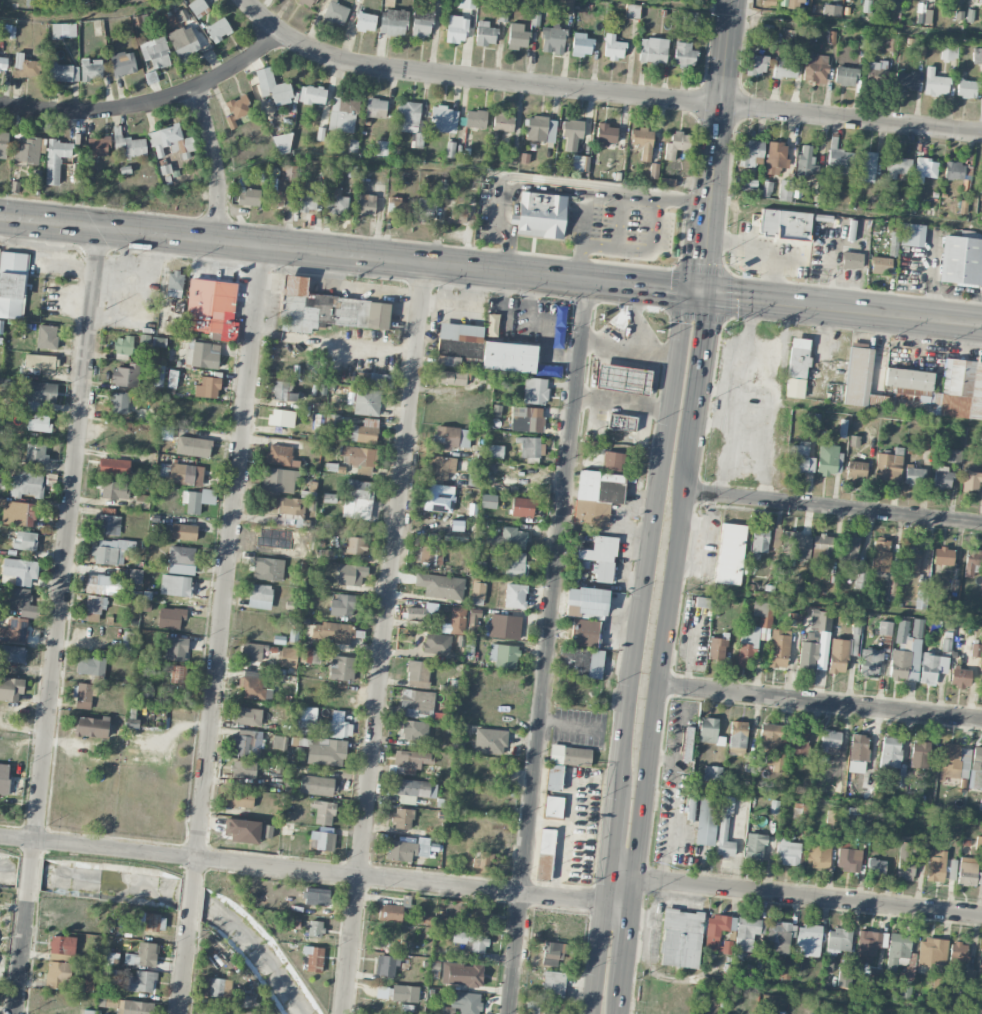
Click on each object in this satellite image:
building: (978, 2)
building: (306, 3)
building: (467, 4)
building: (567, 4)
building: (795, 4)
building: (197, 6)
building: (632, 11)
building: (336, 13)
building: (181, 15)
road: (86, 16)
building: (924, 17)
road: (801, 19)
building: (690, 21)
building: (365, 22)
building: (393, 23)
building: (421, 24)
building: (218, 29)
building: (457, 29)
building: (63, 31)
building: (485, 34)
building: (517, 37)
building: (552, 40)
building: (183, 42)
building: (581, 45)
building: (613, 48)
building: (653, 50)
building: (155, 52)
building: (949, 52)
building: (684, 55)
building: (977, 56)
building: (123, 64)
building: (3, 65)
building: (756, 65)
building: (25, 67)
building: (785, 67)
building: (815, 68)
building: (91, 69)
building: (877, 71)
building: (62, 73)
building: (845, 76)
building: (906, 81)
building: (935, 83)
building: (966, 88)
building: (277, 92)
road: (603, 93)
building: (312, 95)
road: (149, 100)
building: (376, 108)
building: (237, 110)
building: (343, 114)
building: (408, 117)
building: (475, 119)
building: (443, 120)
building: (502, 122)
building: (540, 129)
building: (572, 134)
building: (605, 134)
building: (417, 140)
building: (173, 141)
building: (643, 142)
building: (281, 144)
building: (3, 145)
building: (676, 145)
building: (99, 146)
road: (717, 146)
building: (382, 148)
building: (450, 149)
building: (27, 150)
building: (750, 152)
building: (775, 158)
building: (56, 160)
building: (580, 163)
building: (806, 163)
building: (839, 163)
road: (215, 164)
building: (866, 167)
building: (898, 167)
building: (925, 170)
building: (957, 171)
building: (286, 172)
road: (975, 178)
road: (597, 186)
building: (785, 190)
road: (578, 191)
building: (439, 193)
building: (248, 197)
building: (276, 199)
building: (308, 201)
building: (336, 202)
building: (365, 205)
building: (397, 207)
building: (426, 210)
building: (541, 215)
building: (458, 216)
road: (619, 218)
road: (500, 223)
building: (785, 225)
building: (907, 235)
road: (581, 239)
road: (643, 249)
building: (852, 260)
building: (961, 261)
building: (881, 265)
road: (491, 270)
building: (12, 284)
building: (174, 284)
traffic signals: (701, 293)
building: (211, 308)
building: (326, 309)
building: (492, 324)
building: (46, 337)
building: (457, 343)
building: (123, 345)
building: (202, 355)
building: (508, 357)
building: (798, 358)
building: (38, 363)
building: (125, 376)
building: (451, 378)
building: (171, 379)
building: (374, 380)
road: (698, 381)
building: (207, 388)
building: (794, 388)
building: (961, 389)
building: (284, 391)
building: (534, 391)
building: (39, 395)
building: (640, 398)
building: (367, 402)
building: (119, 403)
road: (890, 416)
building: (279, 418)
building: (526, 419)
building: (813, 420)
building: (39, 423)
building: (331, 424)
building: (365, 431)
building: (166, 433)
building: (451, 438)
building: (981, 440)
building: (854, 441)
building: (193, 447)
building: (530, 450)
building: (495, 452)
building: (36, 454)
building: (280, 456)
building: (955, 456)
building: (799, 458)
building: (359, 459)
building: (828, 459)
building: (613, 461)
building: (114, 467)
building: (442, 467)
building: (888, 467)
building: (856, 470)
building: (185, 474)
building: (914, 475)
building: (942, 477)
building: (280, 480)
building: (971, 481)
building: (26, 485)
building: (114, 490)
building: (438, 498)
building: (358, 499)
building: (198, 500)
building: (488, 501)
building: (291, 506)
building: (523, 507)
road: (832, 507)
building: (23, 514)
building: (107, 525)
building: (183, 532)
building: (513, 538)
building: (777, 538)
building: (25, 541)
building: (758, 542)
road: (65, 544)
building: (355, 546)
building: (794, 547)
building: (821, 549)
building: (850, 549)
building: (110, 552)
building: (425, 554)
building: (730, 554)
building: (182, 555)
building: (881, 556)
building: (943, 556)
building: (601, 558)
building: (911, 558)
building: (971, 562)
road: (226, 563)
building: (515, 566)
building: (181, 569)
building: (271, 569)
building: (20, 571)
building: (351, 575)
building: (861, 580)
building: (104, 585)
building: (175, 586)
building: (440, 586)
building: (892, 586)
building: (478, 591)
road: (642, 593)
building: (259, 596)
building: (515, 596)
building: (21, 601)
building: (921, 601)
building: (702, 602)
building: (586, 603)
road: (826, 604)
building: (341, 606)
building: (92, 608)
building: (763, 614)
building: (421, 615)
building: (171, 618)
building: (457, 620)
building: (474, 620)
building: (509, 627)
building: (885, 628)
building: (332, 633)
building: (584, 633)
building: (824, 636)
road: (384, 639)
building: (127, 641)
building: (436, 644)
building: (747, 645)
road: (547, 646)
building: (778, 648)
building: (177, 649)
building: (717, 649)
building: (251, 653)
building: (12, 654)
building: (305, 655)
building: (905, 655)
building: (504, 656)
building: (838, 656)
building: (288, 658)
building: (580, 662)
building: (870, 663)
building: (90, 666)
building: (341, 668)
building: (929, 670)
building: (177, 674)
road: (658, 674)
building: (419, 675)
building: (960, 678)
building: (981, 679)
building: (254, 686)
building: (11, 689)
building: (84, 692)
road: (819, 701)
building: (82, 705)
building: (246, 716)
building: (304, 720)
building: (336, 726)
building: (92, 727)
building: (412, 730)
building: (709, 731)
building: (737, 738)
building: (490, 741)
building: (829, 742)
building: (247, 743)
building: (279, 743)
building: (687, 744)
building: (772, 745)
building: (797, 747)
building: (858, 747)
building: (325, 752)
building: (890, 752)
building: (919, 755)
building: (570, 756)
building: (409, 762)
building: (954, 762)
building: (244, 769)
building: (976, 770)
building: (712, 774)
building: (553, 778)
building: (4, 779)
building: (867, 779)
building: (898, 781)
building: (317, 786)
building: (414, 790)
building: (238, 799)
road: (836, 801)
building: (771, 806)
building: (553, 808)
building: (323, 812)
building: (832, 817)
building: (402, 819)
building: (706, 821)
building: (267, 831)
building: (724, 838)
building: (321, 841)
building: (546, 841)
building: (754, 847)
building: (406, 851)
building: (788, 853)
building: (818, 856)
building: (848, 858)
building: (906, 862)
building: (936, 866)
building: (876, 867)
road: (301, 870)
building: (951, 870)
building: (969, 872)
road: (29, 880)
road: (620, 889)
road: (809, 896)
building: (316, 897)
road: (191, 900)
building: (390, 913)
building: (475, 918)
building: (151, 923)
building: (315, 929)
building: (717, 931)
road: (628, 933)
building: (746, 933)
building: (778, 933)
building: (681, 939)
building: (808, 941)
building: (838, 941)
building: (471, 942)
building: (868, 945)
building: (62, 948)
building: (898, 951)
building: (553, 952)
building: (931, 952)
building: (958, 952)
building: (142, 955)
road: (597, 957)
road: (20, 958)
building: (314, 959)
building: (980, 959)
building: (386, 966)
road: (184, 967)
building: (782, 972)
building: (59, 975)
building: (461, 975)
building: (875, 975)
building: (844, 978)
building: (969, 978)
building: (937, 981)
building: (141, 982)
building: (553, 984)
building: (217, 988)
building: (903, 989)
road: (802, 992)
building: (404, 994)
building: (978, 998)
building: (108, 1001)
building: (245, 1001)
road: (619, 1002)
building: (465, 1003)
building: (532, 1007)
building: (135, 1008)
building: (224, 1012)
building: (547, 1012)

